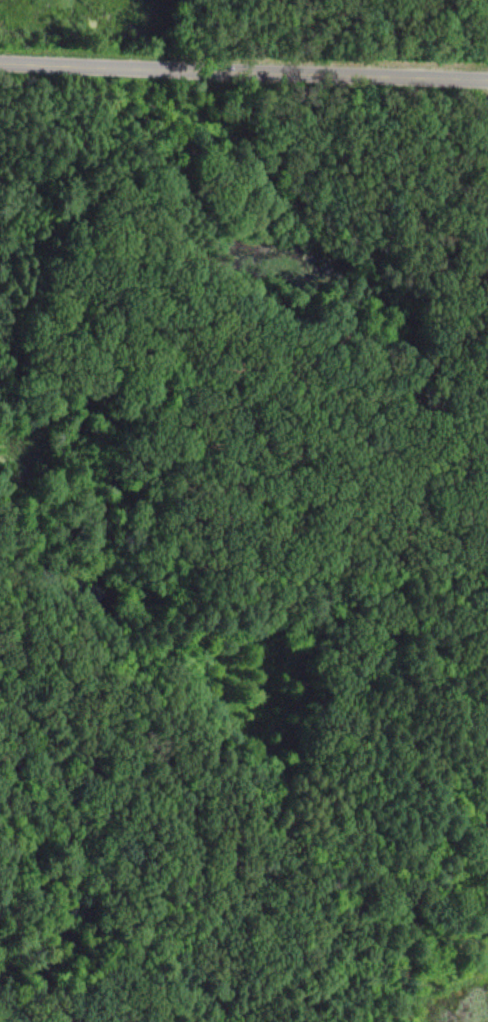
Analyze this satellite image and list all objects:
road: (484, 15)
road: (244, 68)
road: (390, 541)

